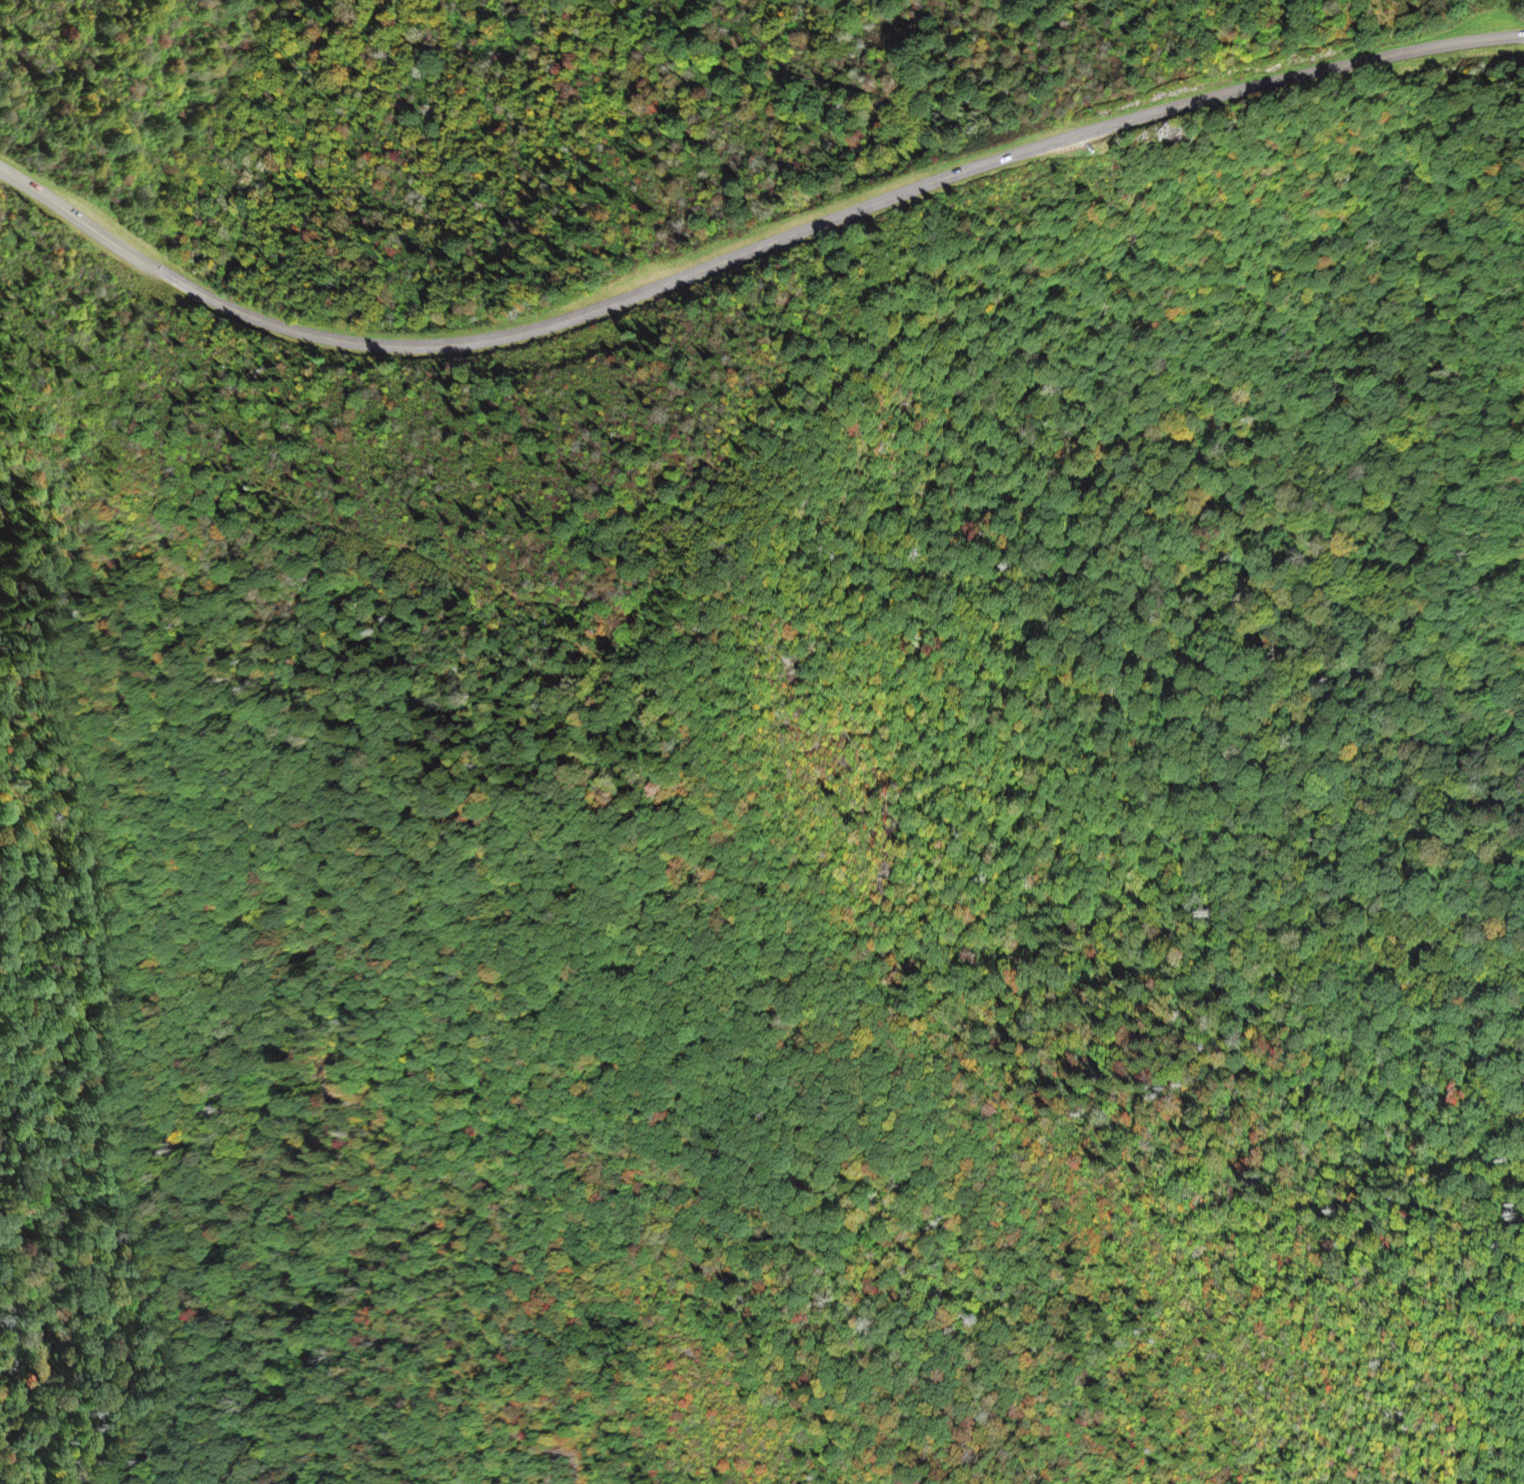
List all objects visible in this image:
road: (1498, 36)
road: (1249, 85)
road: (507, 333)

